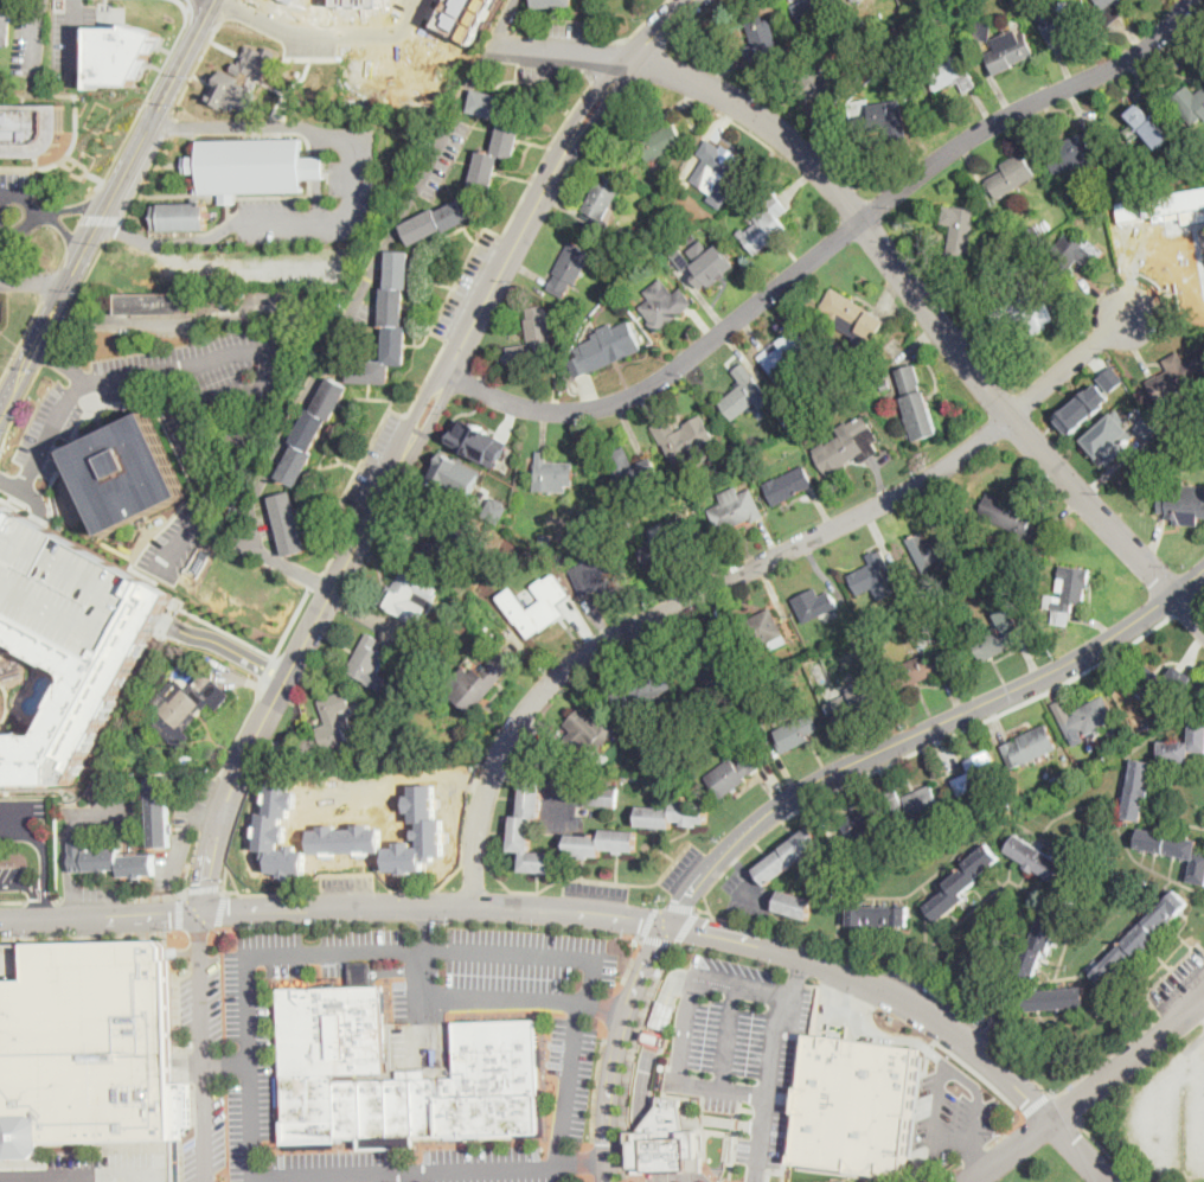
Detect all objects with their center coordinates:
building: (854, 0)
building: (552, 4)
building: (812, 7)
building: (1109, 11)
building: (939, 15)
building: (466, 17)
building: (1058, 21)
road: (641, 24)
building: (859, 24)
building: (5, 27)
building: (984, 30)
road: (76, 33)
road: (320, 34)
road: (36, 36)
parking lot: (79, 37)
building: (762, 38)
parking lot: (30, 39)
building: (1008, 51)
building: (122, 53)
road: (199, 56)
road: (608, 58)
building: (255, 60)
building: (895, 66)
building: (950, 72)
road: (1141, 81)
road: (1123, 85)
building: (819, 87)
road: (1139, 87)
building: (229, 91)
road: (145, 101)
road: (108, 104)
building: (1190, 104)
building: (883, 119)
road: (159, 124)
building: (1148, 124)
road: (166, 126)
building: (31, 128)
building: (508, 135)
building: (654, 139)
road: (142, 141)
building: (1074, 153)
building: (685, 159)
building: (254, 166)
building: (717, 166)
building: (1012, 175)
building: (681, 177)
road: (148, 178)
building: (1119, 183)
building: (602, 199)
road: (351, 202)
road: (82, 206)
building: (1164, 206)
road: (37, 215)
road: (44, 215)
building: (181, 216)
parking lot: (14, 217)
road: (103, 218)
building: (441, 219)
building: (766, 225)
road: (108, 230)
building: (960, 230)
road: (119, 231)
road: (65, 235)
building: (1029, 237)
road: (828, 245)
road: (64, 254)
building: (1075, 254)
building: (685, 261)
road: (891, 261)
road: (254, 263)
building: (712, 266)
building: (570, 268)
building: (1035, 268)
road: (372, 269)
building: (954, 270)
road: (34, 281)
road: (51, 282)
road: (78, 290)
building: (986, 290)
building: (153, 302)
building: (665, 305)
parking lot: (1, 311)
building: (1023, 312)
building: (853, 315)
road: (435, 318)
road: (123, 320)
building: (389, 325)
road: (20, 338)
building: (537, 340)
road: (34, 345)
building: (606, 346)
road: (45, 353)
building: (787, 353)
road: (63, 362)
building: (825, 368)
road: (146, 373)
building: (1177, 376)
building: (1110, 377)
building: (885, 383)
building: (744, 394)
road: (92, 401)
road: (223, 401)
building: (916, 403)
road: (19, 407)
building: (1080, 407)
building: (788, 419)
road: (103, 420)
parking lot: (186, 420)
building: (1147, 426)
road: (192, 429)
building: (312, 430)
building: (1184, 430)
building: (1107, 436)
building: (684, 437)
road: (69, 441)
building: (478, 441)
road: (57, 446)
building: (850, 446)
building: (629, 467)
road: (231, 468)
building: (549, 472)
building: (128, 473)
building: (456, 473)
building: (788, 485)
road: (28, 493)
road: (19, 501)
building: (1181, 501)
road: (12, 503)
building: (495, 509)
building: (736, 509)
road: (39, 512)
building: (6, 517)
building: (1014, 519)
building: (289, 523)
building: (469, 524)
building: (623, 525)
building: (658, 528)
building: (438, 538)
building: (546, 542)
building: (667, 545)
building: (933, 551)
road: (265, 554)
road: (348, 556)
road: (747, 570)
building: (598, 576)
building: (871, 576)
road: (314, 580)
building: (65, 583)
parking garage: (65, 583)
building: (1068, 593)
building: (409, 596)
building: (537, 603)
building: (814, 603)
road: (1187, 603)
building: (762, 628)
building: (858, 641)
building: (923, 641)
building: (997, 641)
road: (222, 646)
road: (261, 650)
building: (367, 660)
building: (715, 663)
road: (265, 670)
building: (918, 670)
building: (479, 682)
building: (1163, 684)
building: (643, 686)
building: (76, 690)
building: (859, 699)
building: (158, 702)
building: (750, 704)
building: (188, 707)
building: (1090, 717)
road: (979, 722)
building: (1116, 729)
road: (239, 730)
building: (585, 733)
building: (796, 733)
building: (327, 734)
building: (1184, 745)
building: (652, 746)
building: (1030, 747)
building: (1083, 765)
building: (731, 774)
building: (976, 774)
road: (404, 777)
road: (519, 777)
building: (1064, 777)
building: (1055, 780)
building: (1138, 790)
road: (568, 791)
road: (802, 791)
parking lot: (358, 792)
road: (506, 797)
building: (602, 797)
building: (895, 799)
road: (209, 804)
parking lot: (565, 804)
building: (920, 804)
parking lot: (32, 810)
parking lot: (107, 812)
road: (110, 812)
building: (159, 812)
road: (210, 812)
building: (673, 814)
road: (236, 818)
road: (11, 823)
building: (862, 824)
building: (280, 829)
road: (498, 830)
building: (420, 832)
building: (531, 832)
parking lot: (178, 838)
building: (347, 838)
building: (602, 842)
road: (179, 844)
road: (659, 846)
road: (758, 846)
building: (1174, 849)
building: (788, 856)
building: (1037, 858)
road: (65, 861)
building: (109, 861)
road: (486, 861)
road: (44, 865)
road: (616, 867)
parking lot: (681, 867)
parking lot: (13, 873)
road: (745, 874)
road: (230, 875)
road: (380, 877)
road: (635, 882)
road: (223, 883)
parking lot: (348, 883)
building: (962, 883)
road: (36, 884)
road: (536, 886)
road: (30, 887)
road: (187, 888)
road: (205, 888)
parking lot: (596, 890)
parking lot: (100, 893)
parking lot: (747, 893)
road: (13, 899)
road: (39, 899)
road: (57, 899)
road: (95, 899)
building: (795, 905)
road: (679, 906)
road: (219, 909)
road: (702, 909)
road: (180, 911)
traffic signals: (205, 912)
road: (596, 912)
building: (879, 915)
traffic signals: (667, 920)
road: (647, 921)
road: (685, 926)
road: (89, 928)
road: (149, 931)
road: (211, 931)
road: (198, 932)
road: (41, 934)
road: (92, 934)
building: (1043, 935)
road: (657, 939)
building: (1140, 939)
parking lot: (359, 945)
road: (534, 954)
road: (843, 954)
road: (632, 959)
road: (377, 970)
parking lot: (501, 972)
parking lot: (1174, 983)
road: (744, 988)
parking lot: (256, 991)
road: (670, 992)
parking lot: (936, 992)
road: (482, 997)
building: (1056, 999)
parking lot: (201, 1003)
road: (604, 1005)
building: (664, 1014)
parking lot: (1203, 1016)
road: (1147, 1023)
road: (685, 1028)
building: (654, 1036)
road: (729, 1036)
road: (655, 1037)
road: (889, 1037)
building: (666, 1040)
parking lot: (738, 1043)
building: (333, 1046)
building: (89, 1048)
road: (629, 1058)
road: (229, 1062)
road: (191, 1063)
road: (769, 1065)
building: (664, 1066)
road: (646, 1074)
parking lot: (570, 1078)
road: (595, 1086)
road: (723, 1087)
road: (995, 1088)
road: (1089, 1090)
building: (670, 1100)
road: (1168, 1101)
road: (1035, 1103)
building: (852, 1104)
road: (1068, 1107)
road: (648, 1108)
building: (668, 1110)
parking lot: (250, 1111)
road: (668, 1112)
road: (641, 1114)
parking lot: (1168, 1114)
road: (691, 1116)
building: (664, 1117)
parking lot: (952, 1119)
road: (692, 1120)
road: (731, 1123)
road: (664, 1124)
building: (662, 1125)
parking lot: (206, 1136)
traffic signals: (609, 1143)
road: (954, 1144)
road: (1104, 1149)
building: (668, 1150)
road: (975, 1155)
road: (588, 1158)
road: (980, 1161)
parking lot: (485, 1164)
road: (585, 1165)
parking lot: (98, 1168)
building: (640, 1168)
road: (286, 1177)
road: (411, 1177)
road: (589, 1177)
road: (934, 1177)
road: (77, 1178)
building: (840, 1180)
building: (122, 1181)

